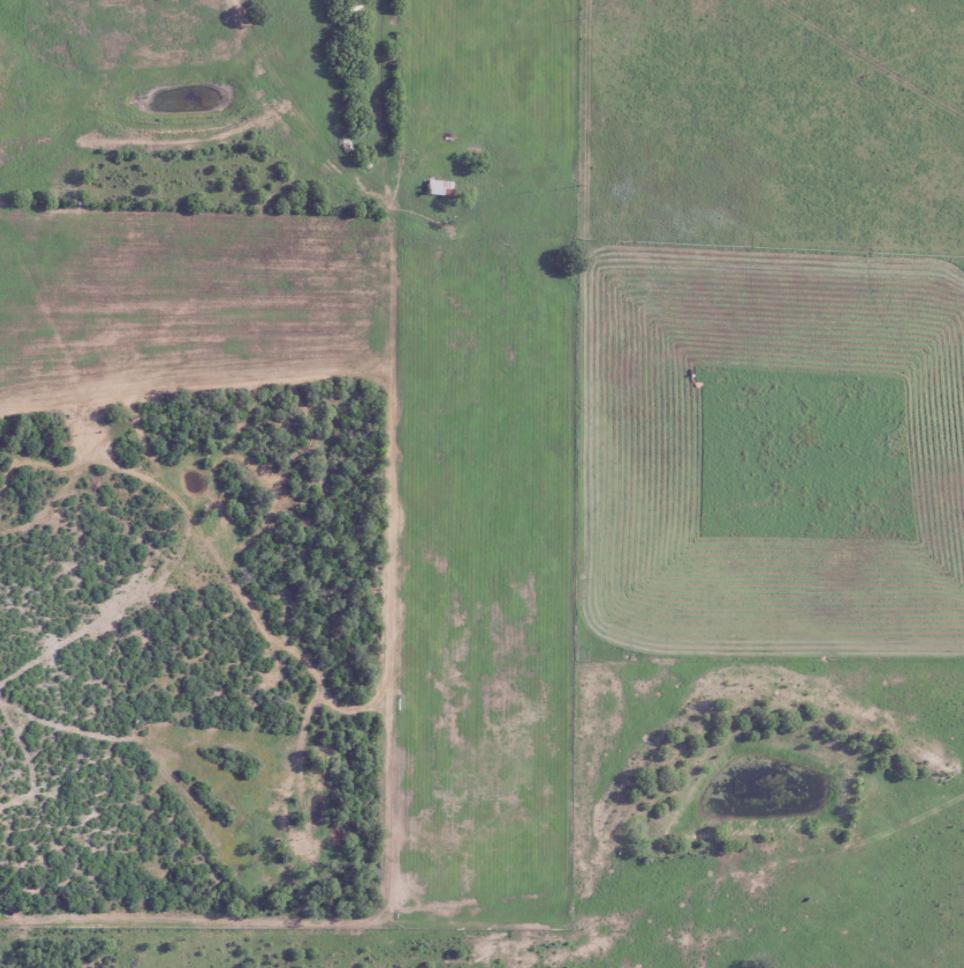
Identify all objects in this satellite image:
road: (565, 146)
building: (438, 188)

